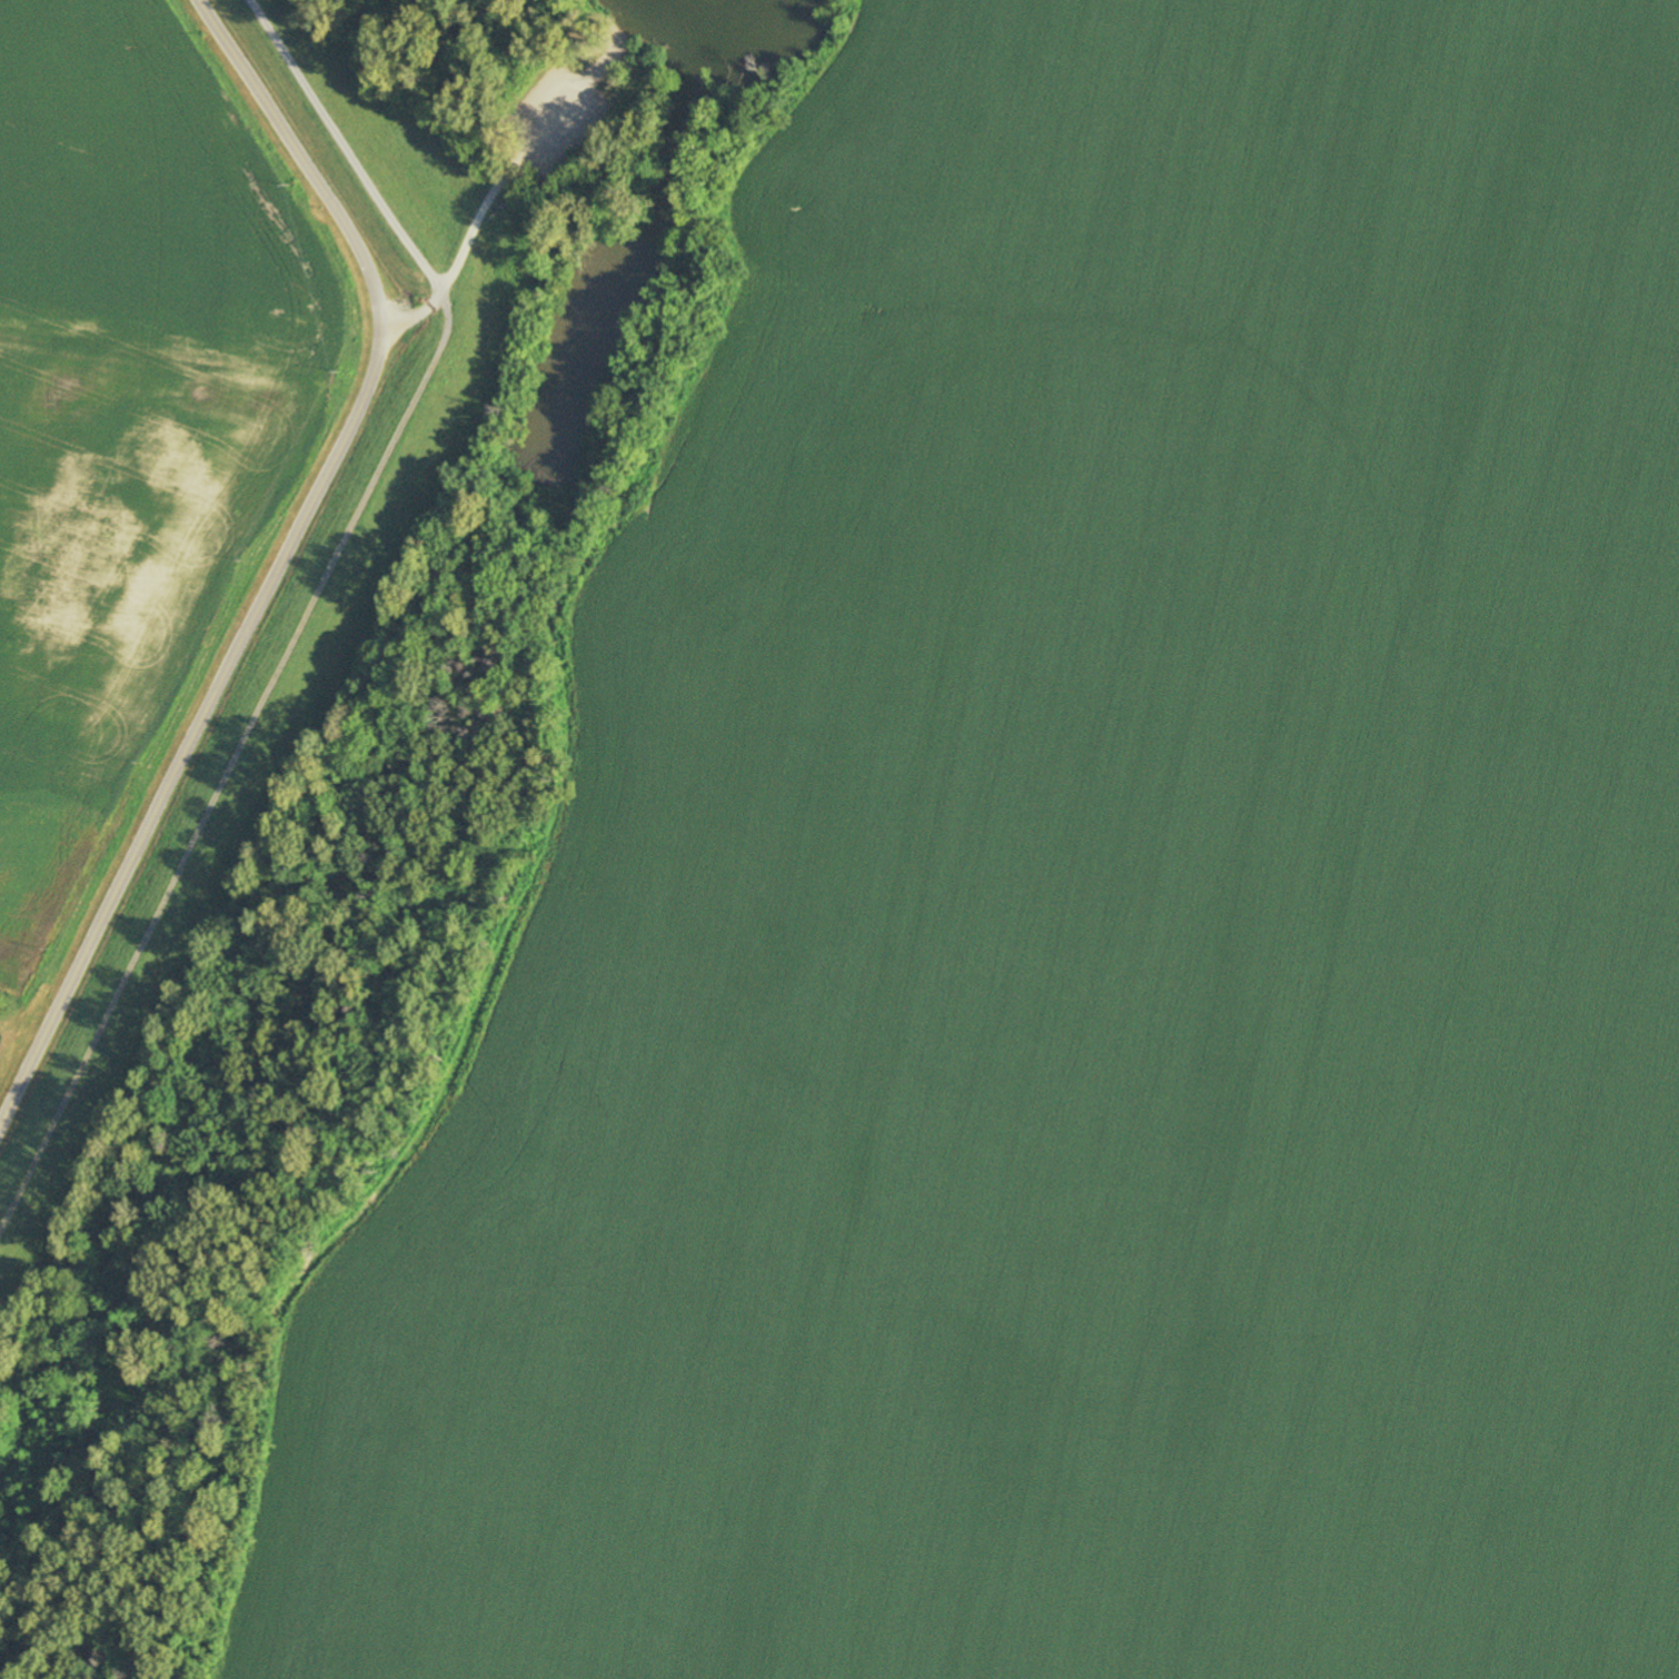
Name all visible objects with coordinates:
road: (568, 103)
road: (345, 147)
road: (473, 230)
road: (411, 316)
road: (280, 558)
road: (234, 769)

